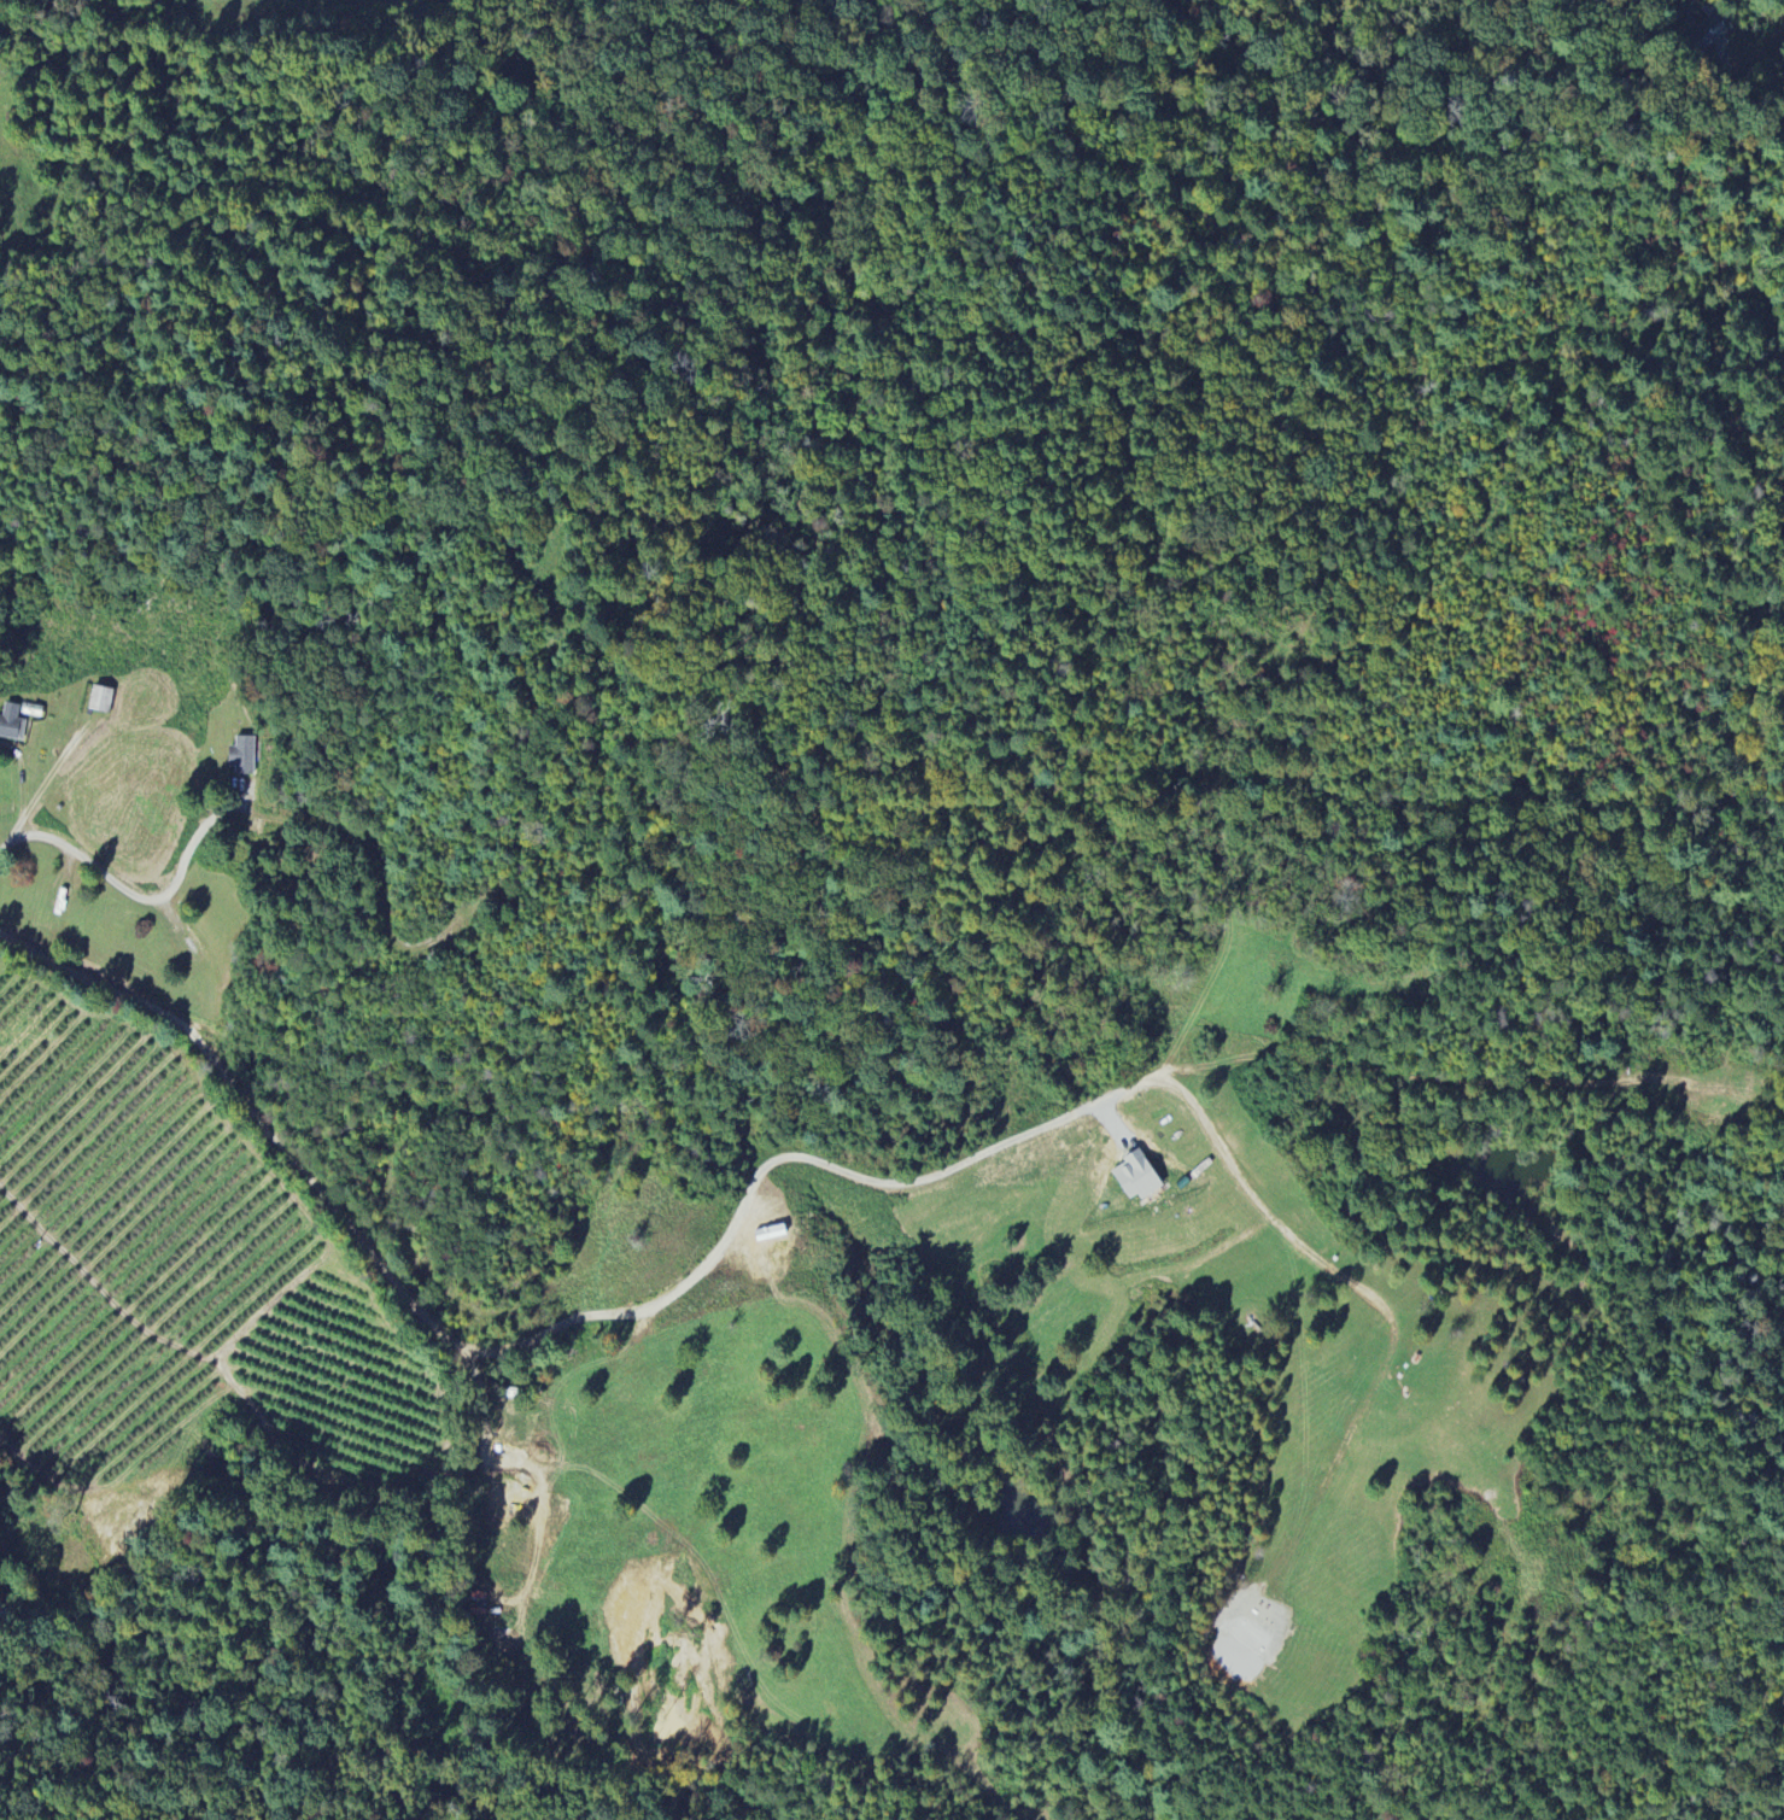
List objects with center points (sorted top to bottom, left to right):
building: (1708, 34)
building: (101, 701)
building: (12, 725)
building: (242, 757)
road: (122, 905)
building: (1137, 1178)
road: (519, 1345)

